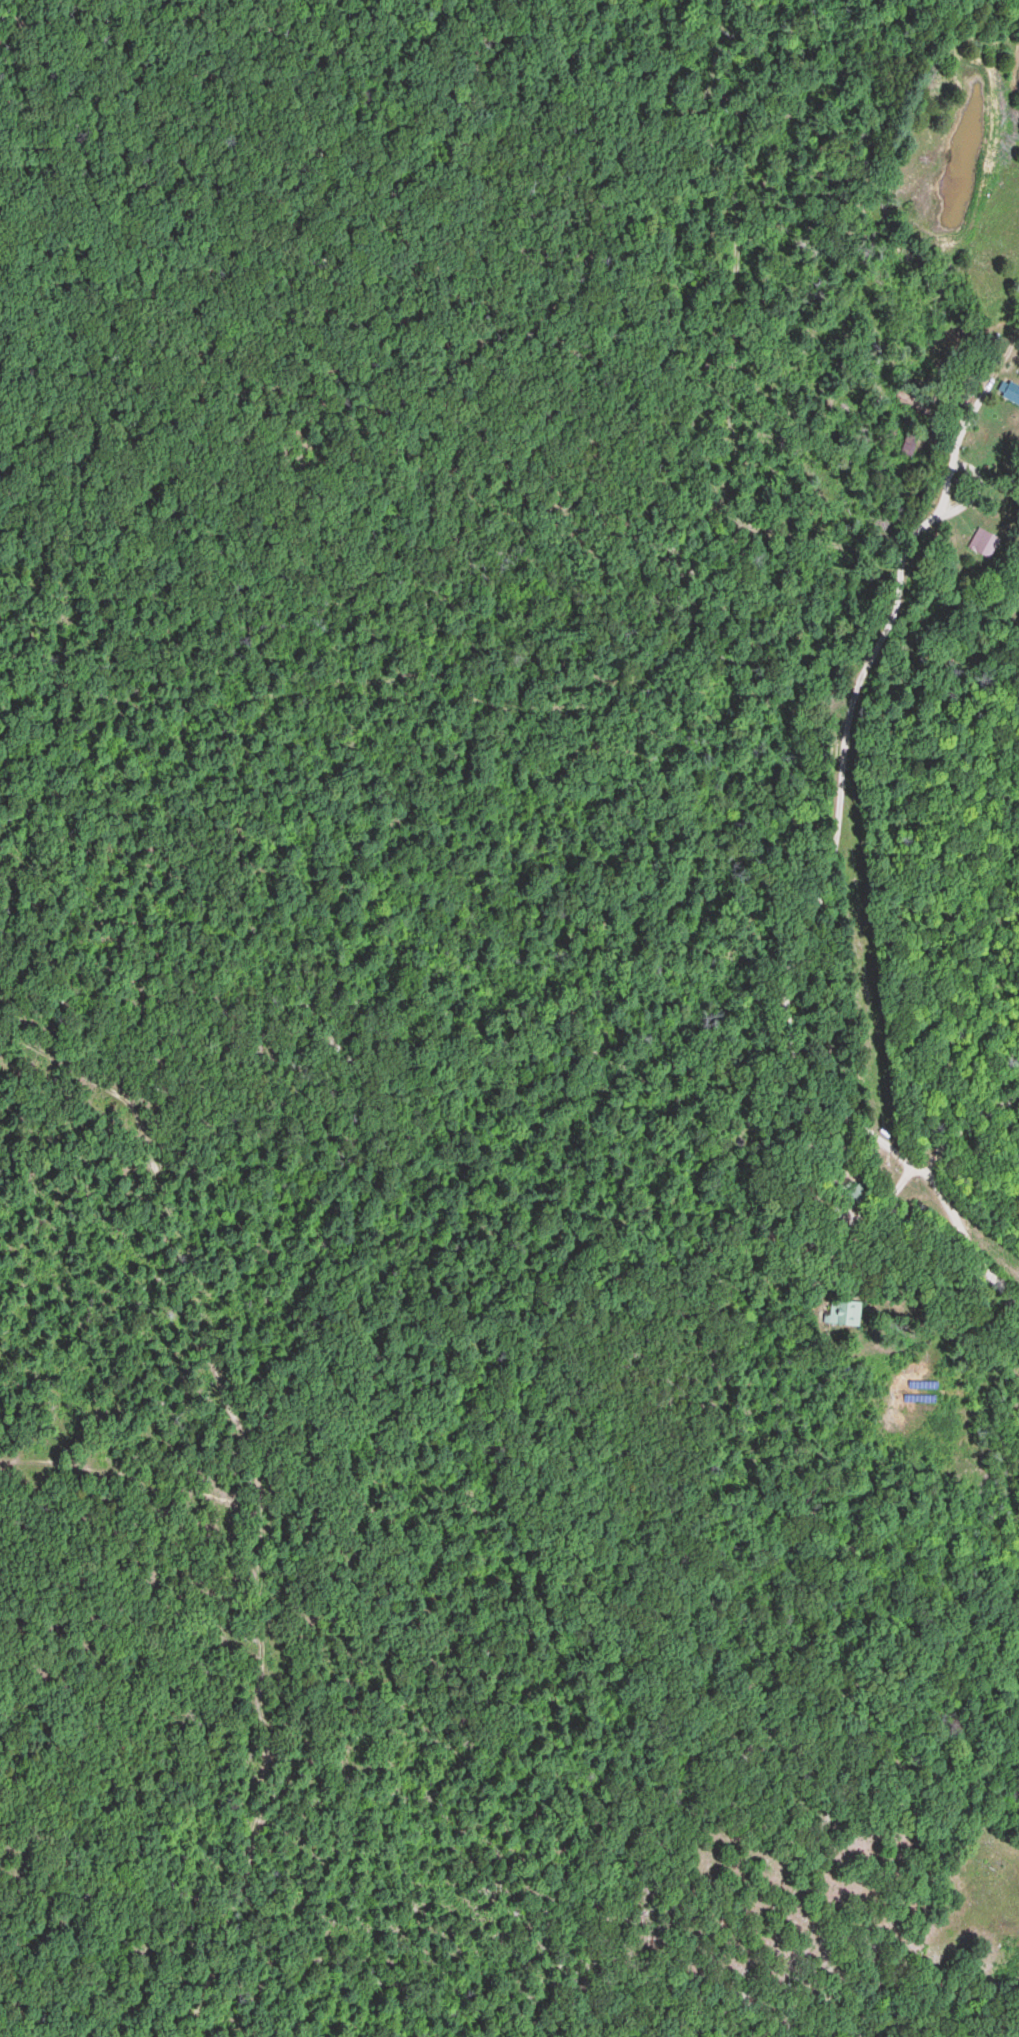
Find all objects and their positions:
building: (1009, 391)
building: (983, 544)
road: (738, 1003)
building: (856, 1195)
building: (844, 1313)

